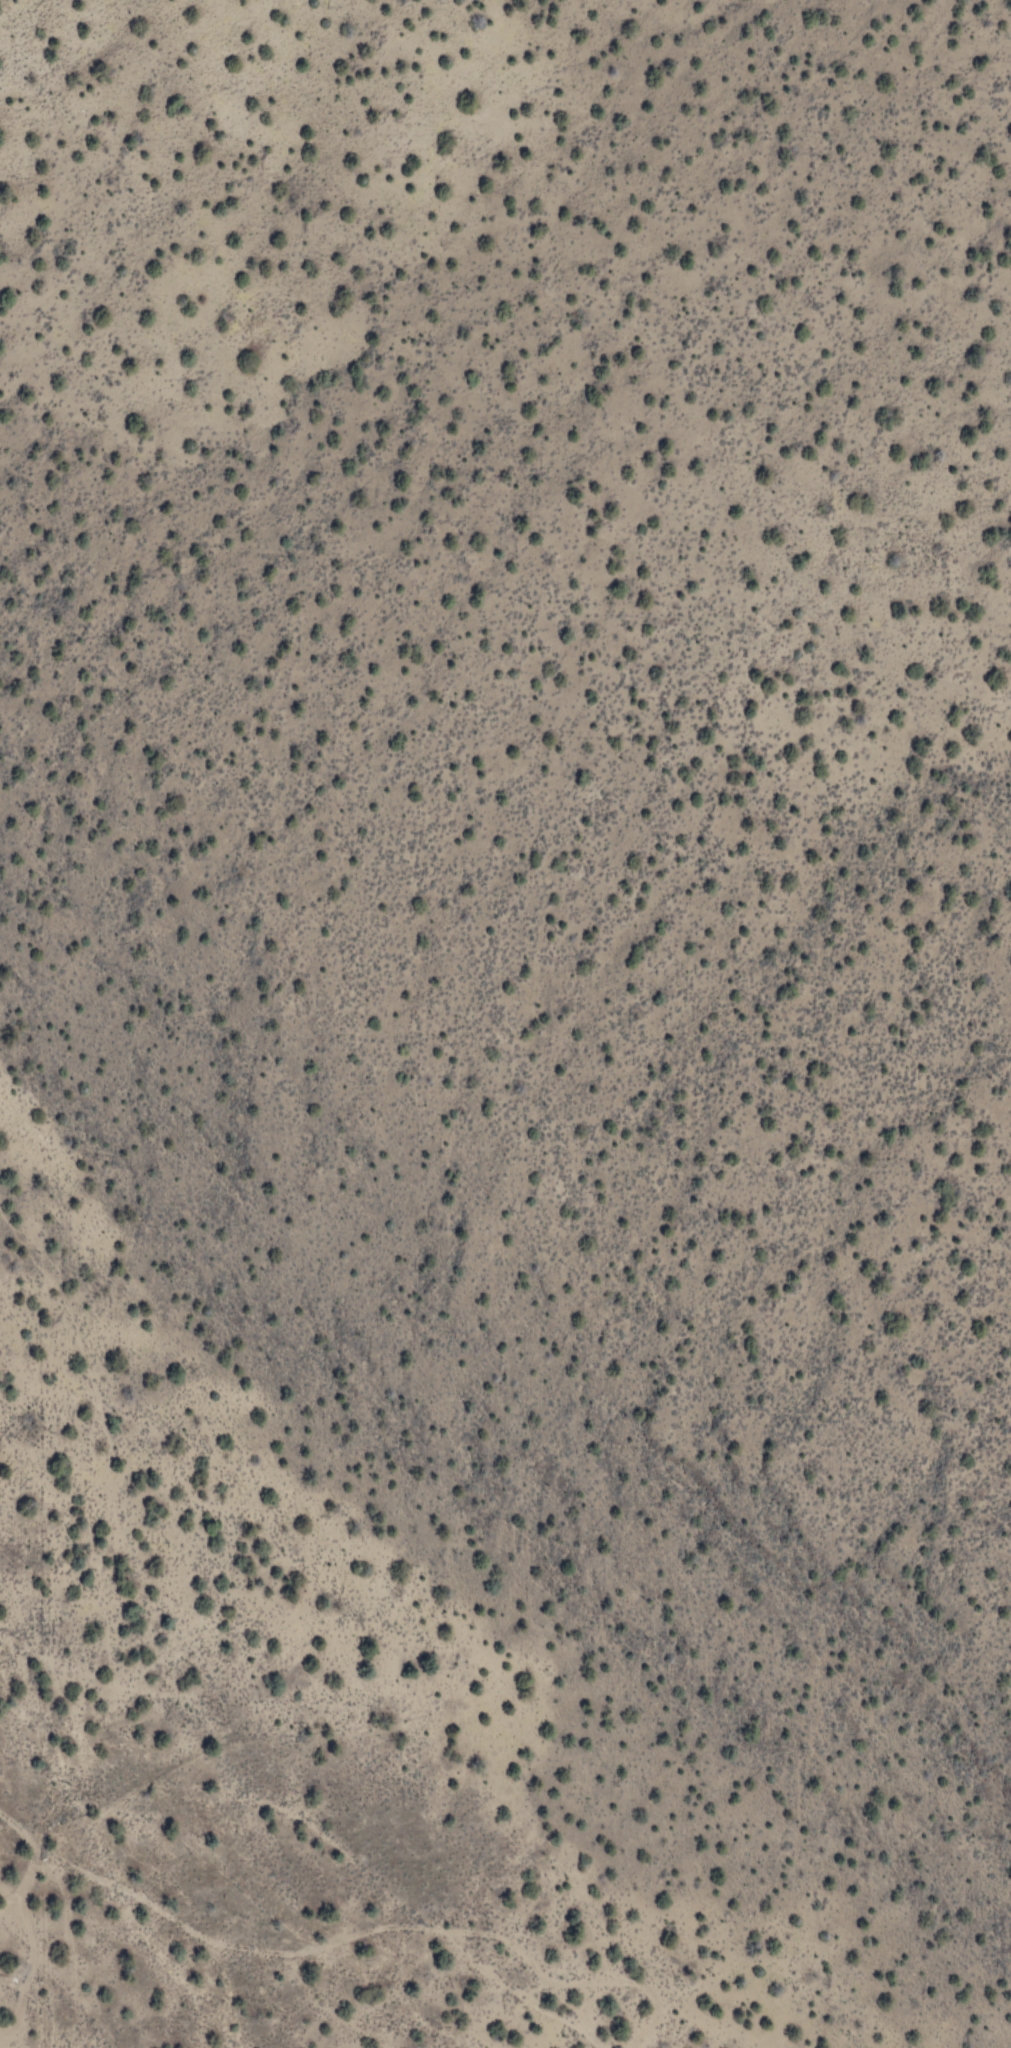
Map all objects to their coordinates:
road: (298, 1830)

